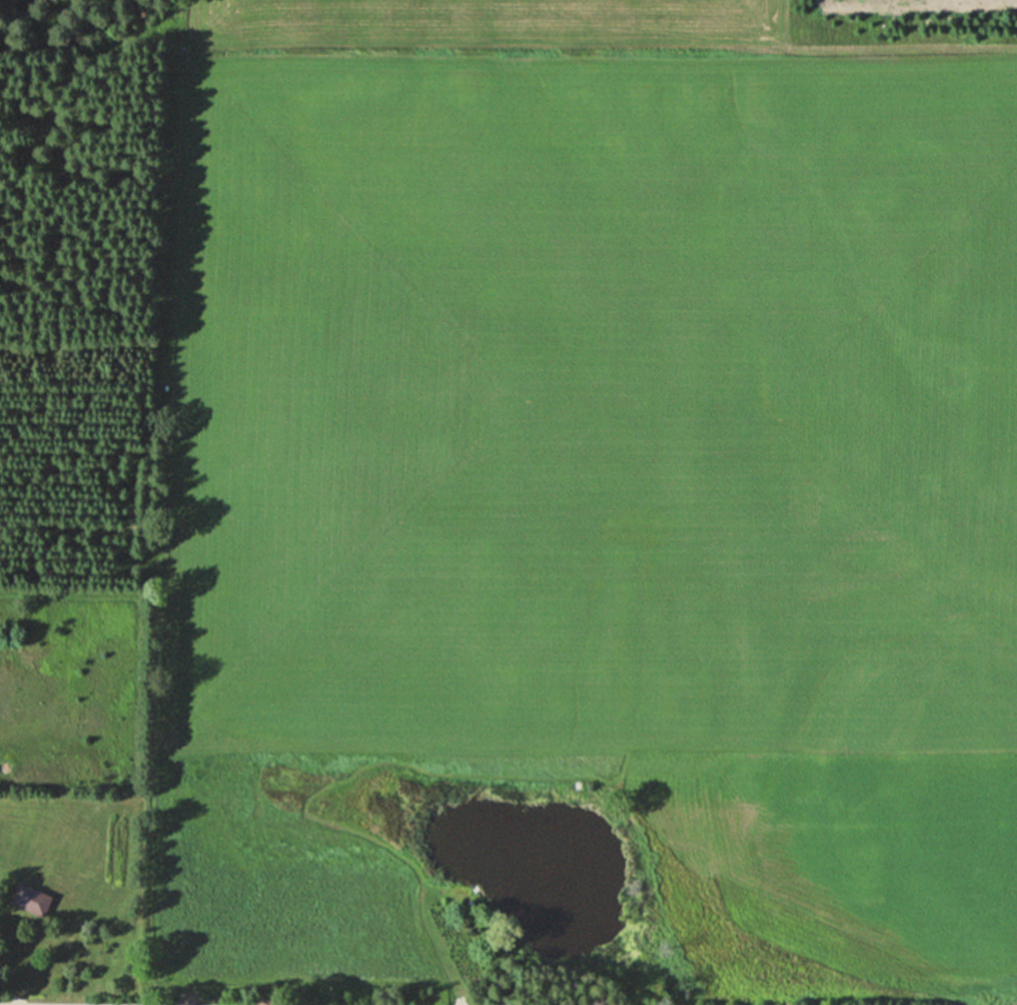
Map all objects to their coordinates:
building: (27, 900)

